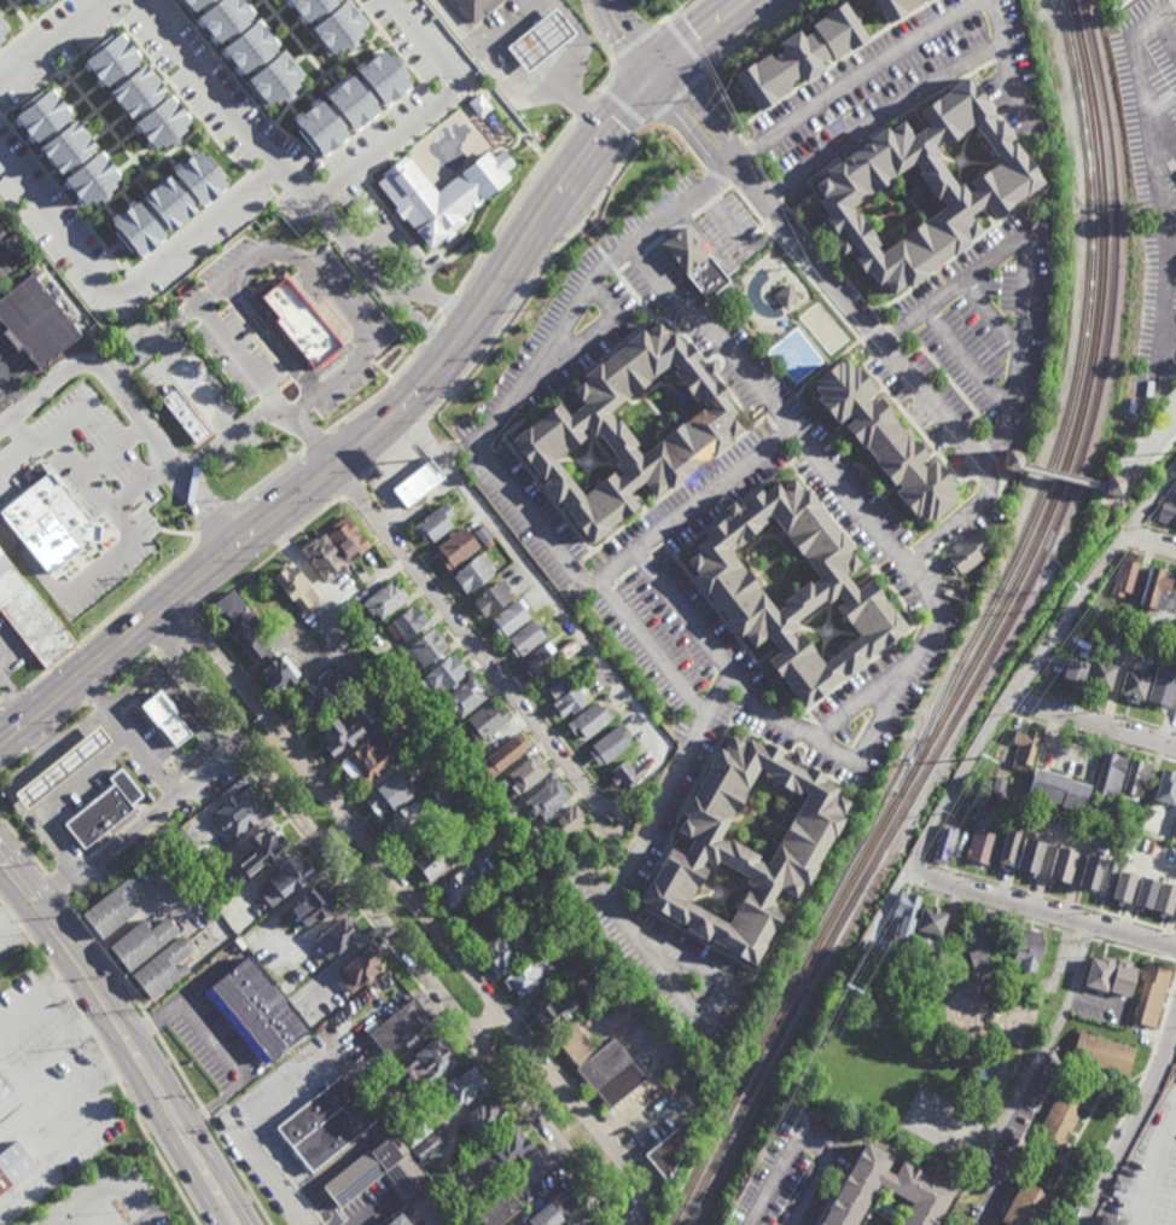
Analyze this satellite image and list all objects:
building: (50, 0)
building: (60, 0)
building: (190, 0)
road: (1175, 0)
building: (40, 1)
building: (476, 7)
building: (892, 7)
road: (676, 12)
building: (332, 21)
road: (506, 22)
road: (1160, 25)
building: (4, 29)
road: (594, 34)
road: (753, 34)
road: (703, 35)
building: (541, 39)
road: (628, 39)
road: (1171, 40)
road: (916, 41)
road: (52, 42)
road: (638, 43)
building: (250, 46)
road: (686, 47)
building: (0, 48)
building: (797, 54)
road: (1136, 68)
traffic signals: (658, 71)
road: (516, 74)
road: (607, 82)
building: (136, 91)
road: (675, 97)
building: (351, 104)
road: (624, 108)
road: (430, 110)
road: (584, 111)
road: (717, 111)
road: (243, 130)
road: (681, 141)
road: (1162, 146)
building: (66, 147)
road: (750, 153)
road: (761, 173)
parking lot: (1152, 176)
road: (744, 178)
road: (717, 180)
road: (1162, 180)
road: (775, 192)
building: (992, 193)
building: (442, 195)
building: (170, 207)
road: (367, 245)
road: (248, 263)
building: (694, 263)
road: (1029, 263)
road: (834, 266)
road: (1162, 267)
road: (540, 273)
road: (823, 273)
road: (461, 286)
road: (124, 288)
building: (787, 296)
road: (449, 301)
road: (995, 312)
building: (301, 323)
building: (31, 325)
road: (425, 327)
road: (892, 335)
road: (858, 339)
road: (266, 341)
road: (153, 342)
road: (237, 354)
road: (967, 361)
road: (347, 366)
road: (950, 384)
road: (13, 389)
railway: (1072, 396)
road: (132, 408)
road: (263, 412)
road: (213, 413)
building: (186, 417)
road: (418, 426)
building: (628, 429)
road: (481, 432)
building: (883, 439)
parking lot: (1149, 439)
road: (315, 441)
road: (369, 443)
road: (1154, 446)
road: (113, 448)
road: (989, 453)
road: (386, 457)
building: (1012, 459)
road: (16, 460)
road: (1151, 465)
road: (1000, 466)
road: (1012, 468)
road: (1000, 470)
road: (272, 475)
road: (986, 476)
road: (86, 477)
road: (1065, 477)
building: (417, 482)
building: (1112, 484)
road: (349, 488)
road: (1116, 489)
road: (846, 495)
road: (1151, 500)
building: (1169, 505)
road: (691, 506)
road: (217, 518)
building: (432, 522)
road: (954, 523)
road: (1157, 529)
building: (39, 532)
building: (482, 532)
building: (348, 535)
road: (1151, 540)
building: (488, 542)
building: (455, 546)
building: (965, 552)
building: (322, 553)
road: (1151, 557)
road: (268, 559)
road: (524, 567)
building: (471, 571)
building: (1129, 577)
road: (76, 584)
building: (295, 585)
power tower: (1073, 587)
building: (1154, 588)
building: (792, 592)
building: (490, 596)
building: (384, 597)
building: (30, 615)
road: (115, 615)
building: (508, 616)
building: (239, 621)
building: (404, 621)
building: (365, 629)
road: (174, 633)
building: (523, 637)
road: (470, 639)
railway: (985, 639)
railway: (997, 639)
building: (424, 645)
building: (566, 648)
building: (385, 649)
road: (231, 656)
building: (537, 657)
building: (583, 668)
building: (1075, 669)
road: (128, 670)
building: (275, 673)
building: (441, 673)
building: (1100, 674)
road: (310, 675)
building: (403, 679)
building: (554, 680)
building: (596, 685)
building: (1133, 685)
building: (1162, 685)
building: (386, 690)
road: (12, 695)
building: (314, 695)
road: (94, 696)
building: (461, 696)
road: (188, 697)
road: (0, 699)
road: (12, 699)
building: (569, 699)
road: (269, 703)
building: (424, 703)
road: (1003, 706)
road: (182, 708)
road: (1102, 710)
road: (71, 715)
building: (164, 715)
road: (770, 715)
building: (588, 719)
building: (484, 720)
road: (1091, 722)
building: (443, 728)
building: (337, 731)
building: (407, 735)
road: (126, 737)
road: (1093, 737)
road: (42, 738)
building: (609, 744)
building: (1024, 748)
road: (233, 750)
road: (52, 753)
building: (502, 754)
power tower: (985, 757)
building: (366, 759)
road: (13, 761)
building: (59, 766)
gas station: (59, 766)
building: (526, 772)
building: (625, 772)
building: (1110, 776)
building: (1137, 779)
building: (479, 780)
road: (14, 782)
road: (87, 783)
building: (419, 783)
building: (1166, 788)
building: (1059, 789)
building: (465, 791)
building: (385, 795)
building: (545, 799)
road: (609, 806)
building: (101, 808)
building: (239, 809)
building: (507, 814)
building: (403, 820)
building: (495, 823)
railway: (903, 823)
building: (563, 824)
road: (142, 826)
road: (337, 832)
building: (177, 840)
road: (623, 840)
building: (944, 843)
road: (23, 846)
building: (261, 846)
building: (980, 846)
building: (1008, 846)
building: (752, 852)
building: (187, 853)
building: (436, 855)
building: (1030, 855)
building: (1061, 865)
building: (1090, 872)
road: (589, 877)
building: (284, 878)
building: (1107, 879)
road: (52, 886)
building: (456, 888)
building: (1123, 888)
railway: (871, 890)
building: (1146, 893)
road: (1052, 898)
building: (1165, 899)
building: (312, 905)
building: (111, 906)
road: (617, 911)
building: (906, 913)
road: (1058, 916)
building: (209, 917)
building: (930, 922)
building: (293, 929)
building: (337, 935)
building: (139, 941)
road: (984, 946)
building: (503, 948)
building: (1029, 948)
road: (467, 952)
road: (105, 954)
building: (979, 958)
building: (159, 968)
building: (357, 968)
building: (1098, 973)
building: (529, 975)
building: (1123, 977)
road: (58, 979)
power tower: (844, 986)
road: (955, 986)
building: (313, 992)
road: (425, 993)
building: (1151, 995)
building: (305, 999)
road: (22, 1009)
building: (256, 1009)
building: (559, 1009)
road: (488, 1023)
road: (976, 1023)
road: (151, 1024)
building: (396, 1028)
road: (127, 1033)
park: (931, 1044)
road: (219, 1045)
building: (575, 1047)
road: (1046, 1047)
building: (1102, 1052)
road: (51, 1057)
road: (1019, 1058)
building: (424, 1067)
road: (115, 1070)
building: (610, 1074)
road: (1100, 1078)
road: (93, 1081)
road: (1120, 1086)
building: (459, 1090)
building: (4, 1091)
road: (42, 1101)
road: (1130, 1102)
road: (1036, 1114)
building: (1061, 1116)
road: (1175, 1119)
building: (481, 1121)
road: (1085, 1122)
building: (325, 1125)
road: (1133, 1126)
road: (214, 1128)
park: (941, 1130)
building: (414, 1136)
road: (808, 1140)
building: (427, 1148)
building: (510, 1149)
building: (669, 1151)
road: (156, 1154)
road: (56, 1160)
road: (1041, 1160)
road: (1055, 1160)
building: (12, 1165)
road: (1158, 1167)
building: (465, 1169)
road: (267, 1172)
building: (357, 1177)
building: (886, 1178)
road: (1165, 1178)
road: (1058, 1180)
road: (109, 1188)
parking lot: (261, 1188)
road: (995, 1190)
parking lot: (106, 1201)
building: (1024, 1204)
road: (634, 1207)
building: (495, 1208)
building: (554, 1211)
building: (1110, 1220)
building: (396, 1221)
building: (575, 1223)
building: (580, 1223)
building: (508, 1224)

